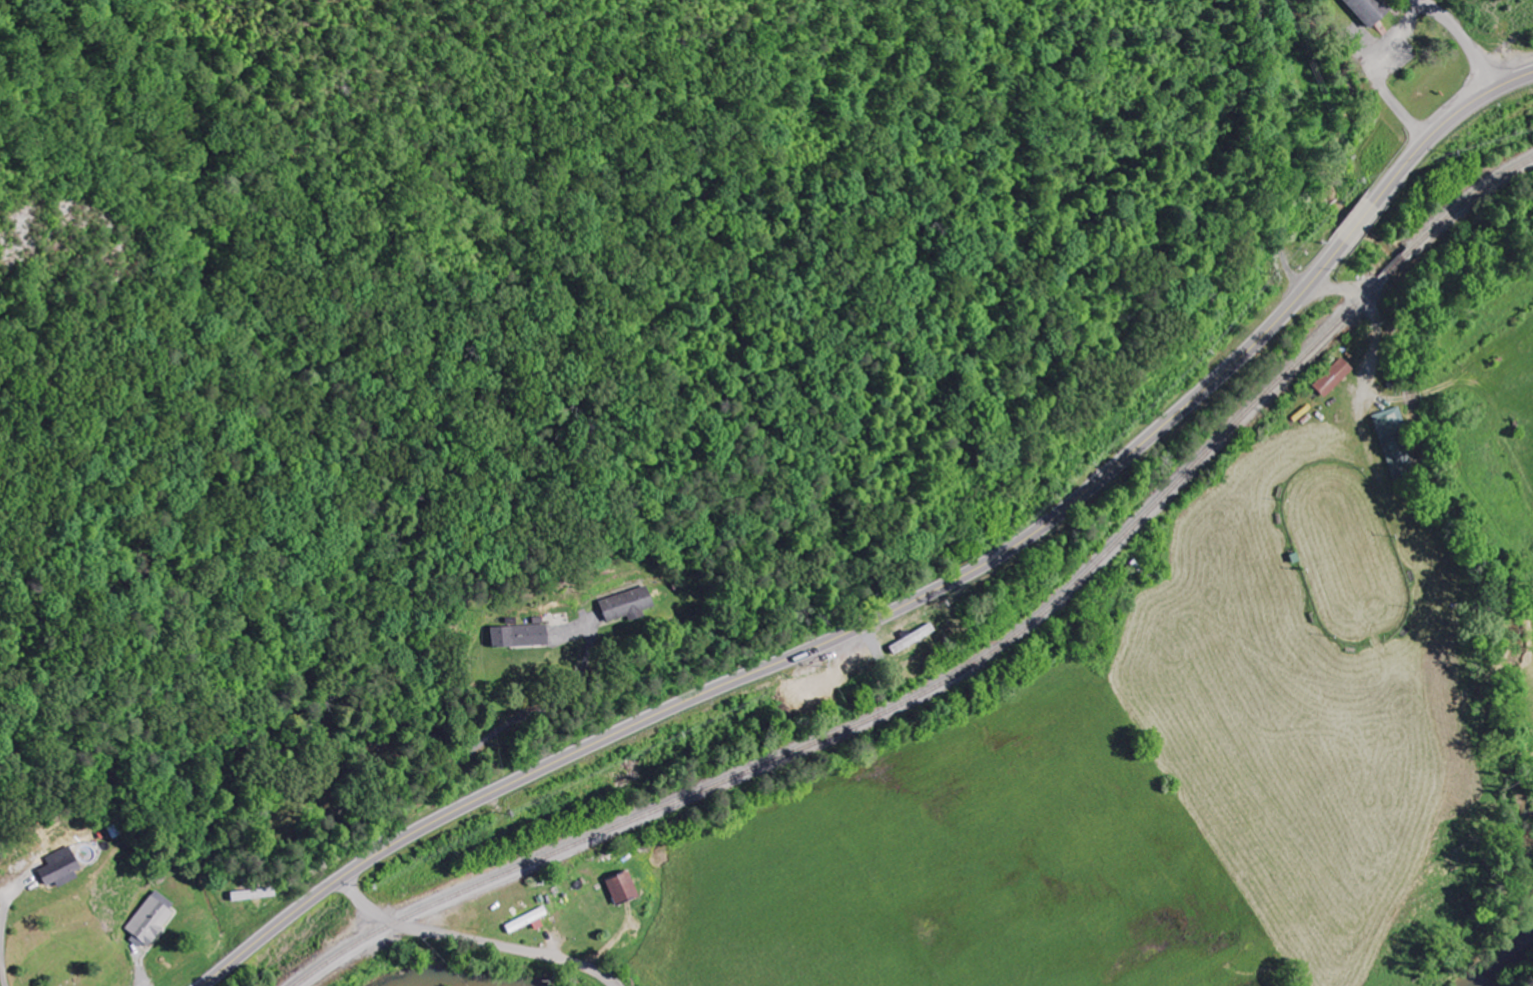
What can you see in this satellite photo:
building: (1370, 9)
road: (1430, 9)
road: (1472, 54)
road: (1443, 128)
railway: (1469, 197)
road: (1358, 223)
railway: (1396, 264)
road: (1372, 358)
building: (1332, 378)
building: (1394, 445)
building: (624, 605)
building: (515, 637)
road: (803, 655)
railway: (890, 710)
road: (477, 740)
building: (59, 869)
building: (621, 889)
road: (3, 915)
building: (151, 919)
building: (527, 921)
road: (471, 941)
road: (3, 971)

